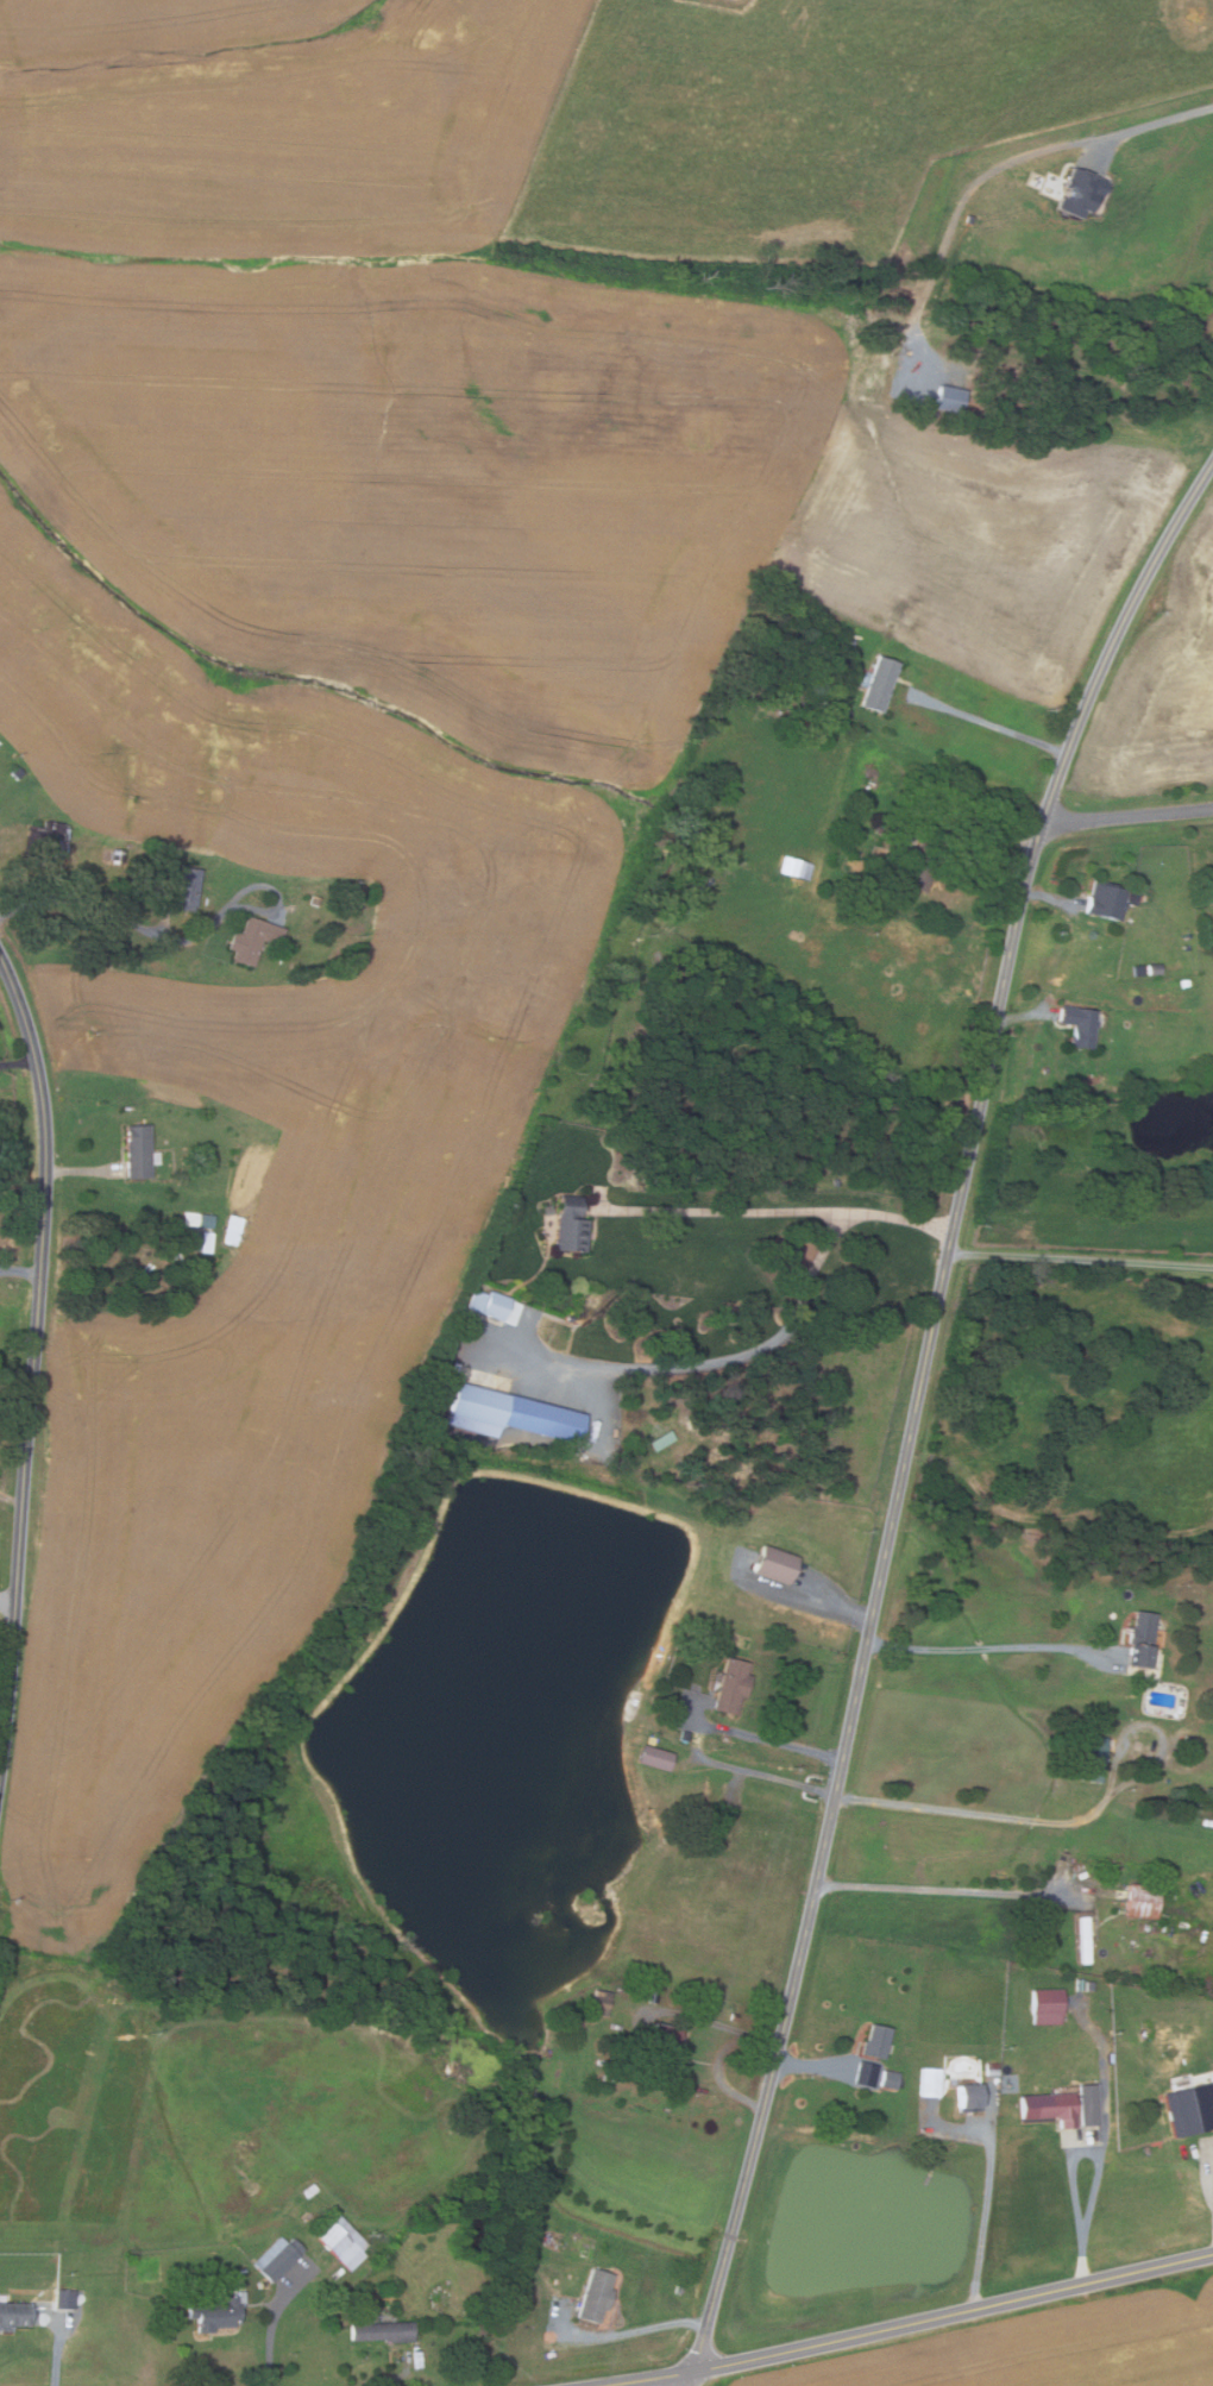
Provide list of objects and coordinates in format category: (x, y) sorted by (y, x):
road: (1006, 176)
building: (1080, 193)
building: (950, 398)
building: (879, 684)
crop: (1162, 684)
road: (988, 721)
crop: (377, 741)
building: (18, 773)
road: (1126, 815)
building: (895, 822)
building: (884, 830)
road: (983, 833)
building: (48, 840)
building: (112, 856)
building: (162, 859)
building: (794, 867)
building: (919, 868)
building: (188, 887)
building: (351, 898)
road: (1050, 898)
building: (1105, 899)
building: (316, 900)
road: (119, 915)
building: (252, 940)
building: (1155, 967)
building: (1138, 969)
building: (1184, 982)
road: (1022, 1016)
building: (1079, 1024)
road: (18, 1062)
building: (139, 1151)
road: (84, 1169)
road: (786, 1203)
building: (197, 1219)
building: (571, 1225)
building: (232, 1230)
building: (196, 1241)
road: (1081, 1258)
road: (20, 1269)
building: (488, 1302)
building: (585, 1308)
road: (744, 1354)
road: (33, 1360)
road: (916, 1408)
building: (508, 1413)
building: (662, 1440)
building: (775, 1564)
road: (8, 1601)
road: (836, 1603)
building: (697, 1625)
building: (1140, 1638)
road: (989, 1646)
building: (731, 1684)
building: (654, 1758)
building: (1093, 1758)
road: (709, 1760)
building: (709, 1795)
road: (1073, 1822)
road: (944, 1890)
building: (1140, 1900)
building: (1085, 1936)
building: (653, 1996)
building: (601, 2002)
building: (1045, 2005)
building: (734, 2016)
road: (716, 2023)
building: (875, 2040)
building: (661, 2048)
road: (815, 2065)
building: (992, 2068)
building: (866, 2073)
building: (888, 2079)
building: (930, 2082)
building: (967, 2096)
building: (1089, 2104)
building: (1056, 2108)
building: (1190, 2109)
road: (1073, 2167)
building: (309, 2191)
road: (1207, 2199)
road: (986, 2217)
building: (339, 2240)
building: (278, 2256)
building: (523, 2268)
building: (595, 2294)
building: (65, 2298)
building: (218, 2312)
building: (13, 2316)
road: (904, 2324)
building: (379, 2331)
road: (626, 2334)
road: (62, 2341)
road: (271, 2343)
crop: (1047, 2348)
road: (384, 2378)

